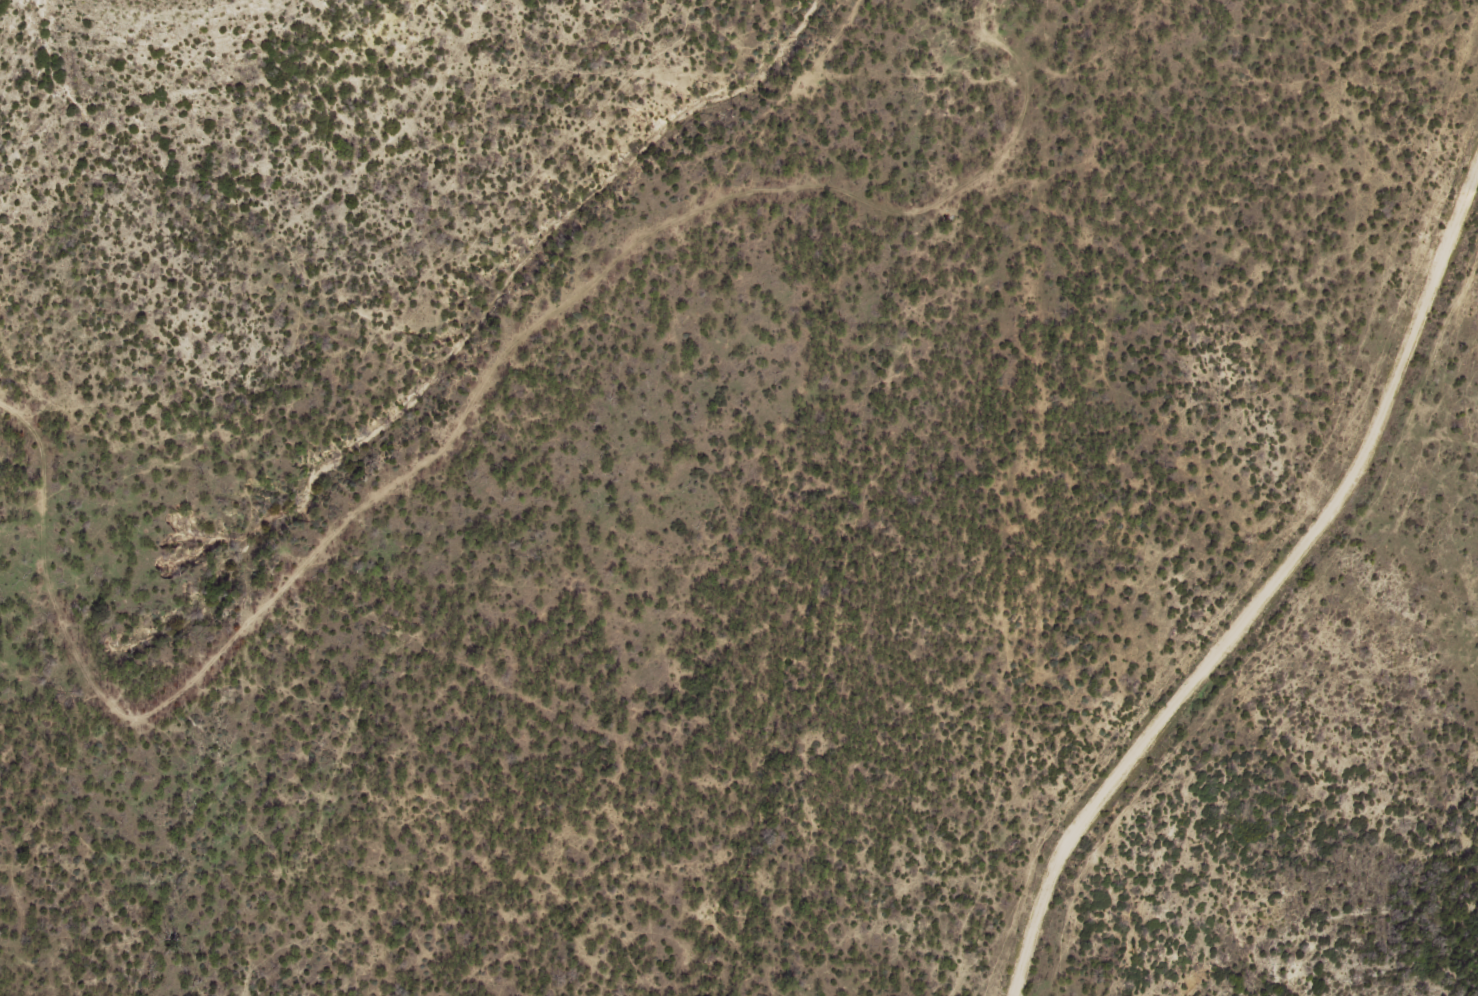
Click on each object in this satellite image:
road: (1267, 593)

